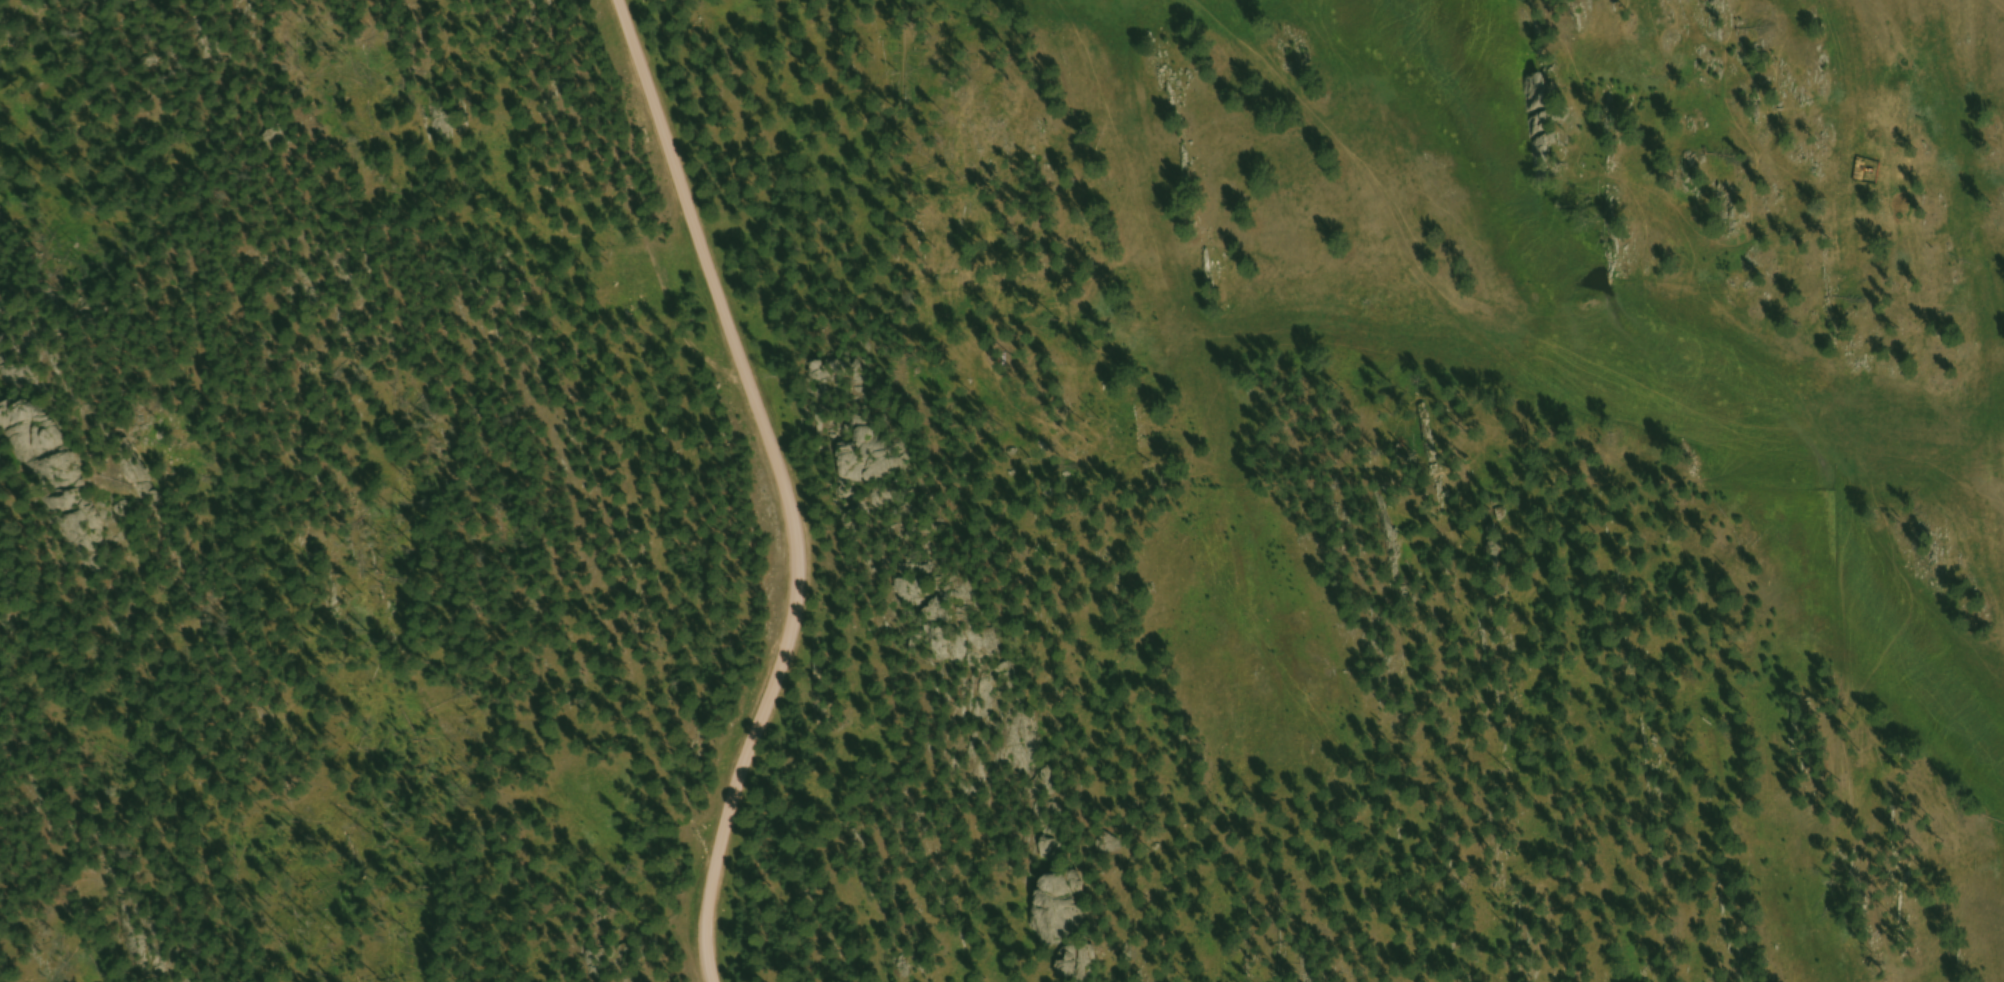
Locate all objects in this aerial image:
road: (777, 486)

